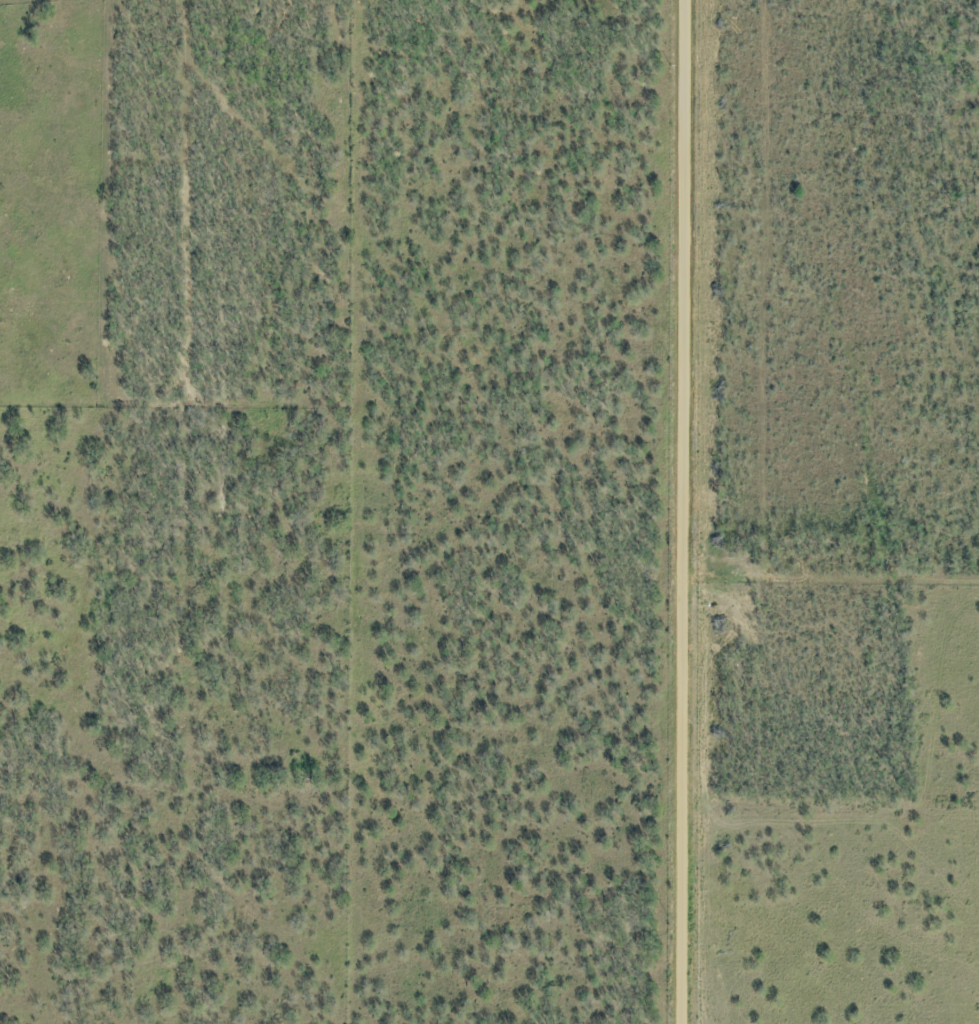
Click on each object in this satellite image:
road: (684, 512)

